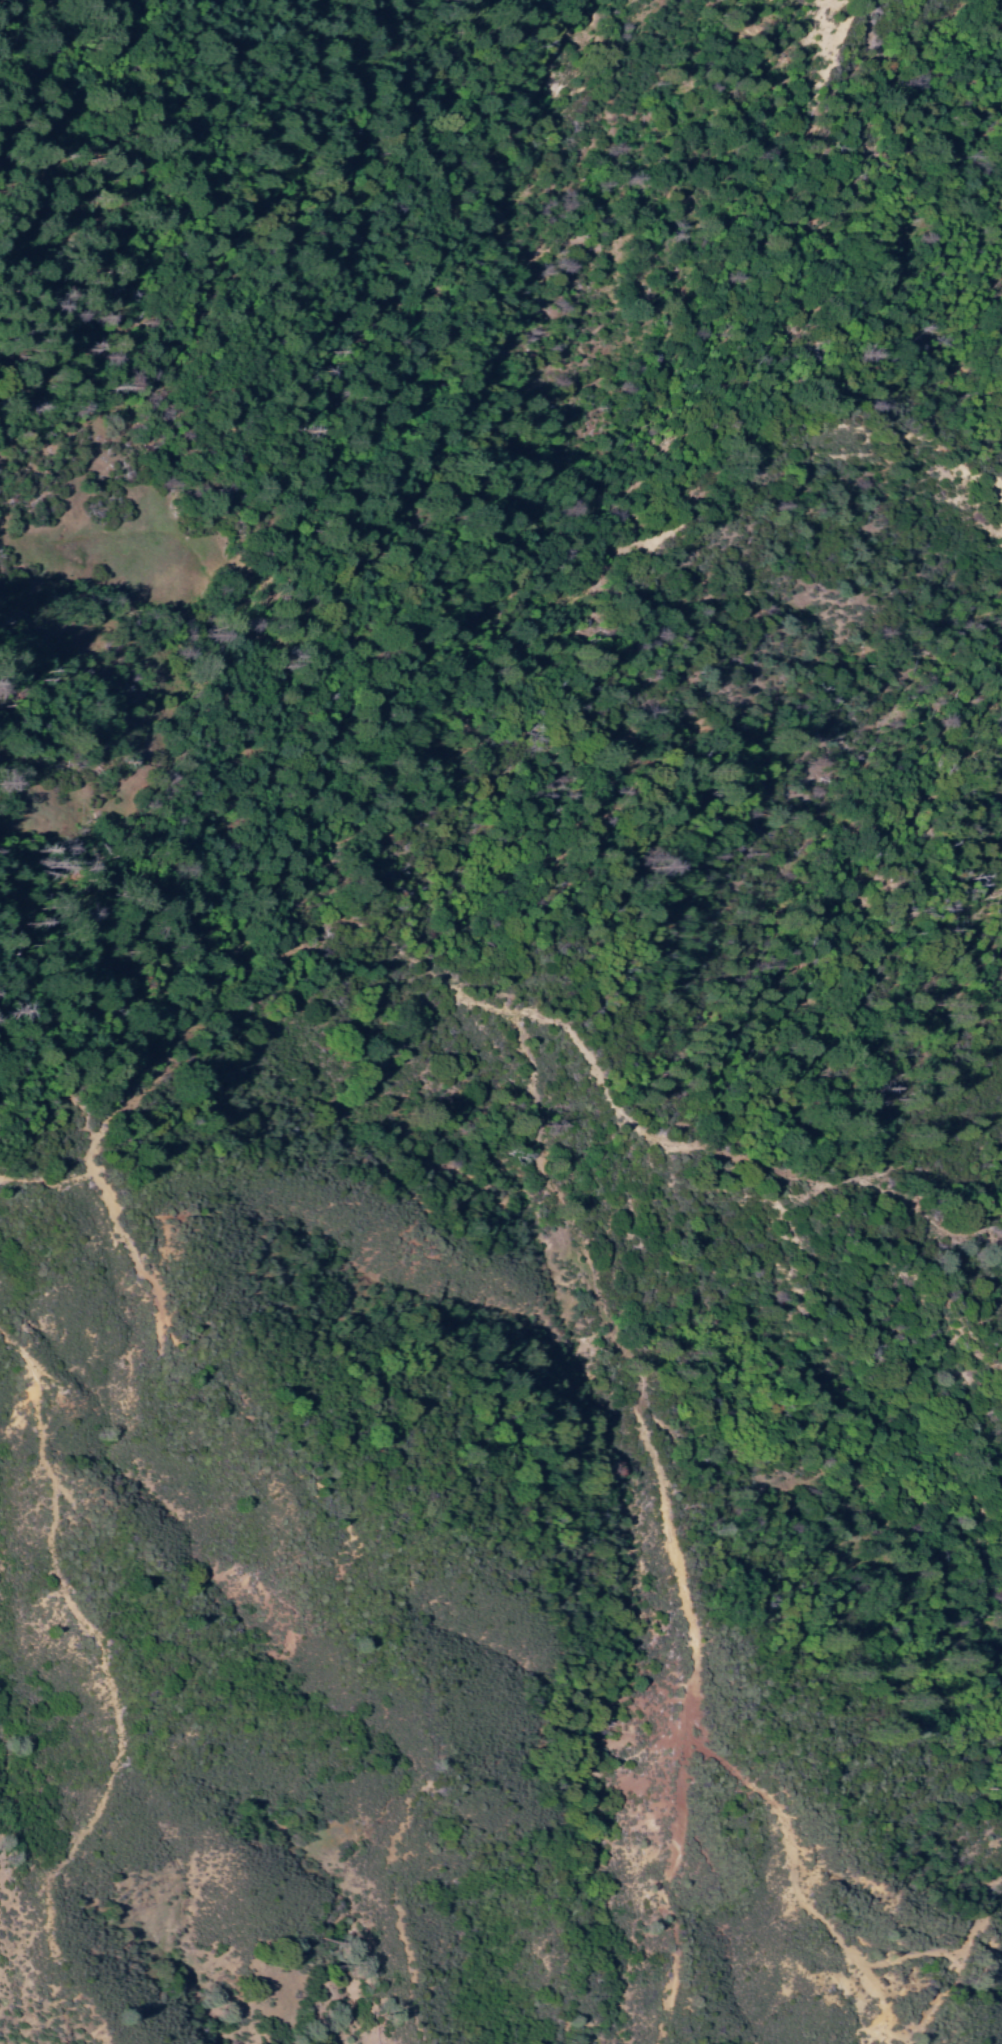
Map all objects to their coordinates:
road: (115, 1139)
road: (931, 1212)

